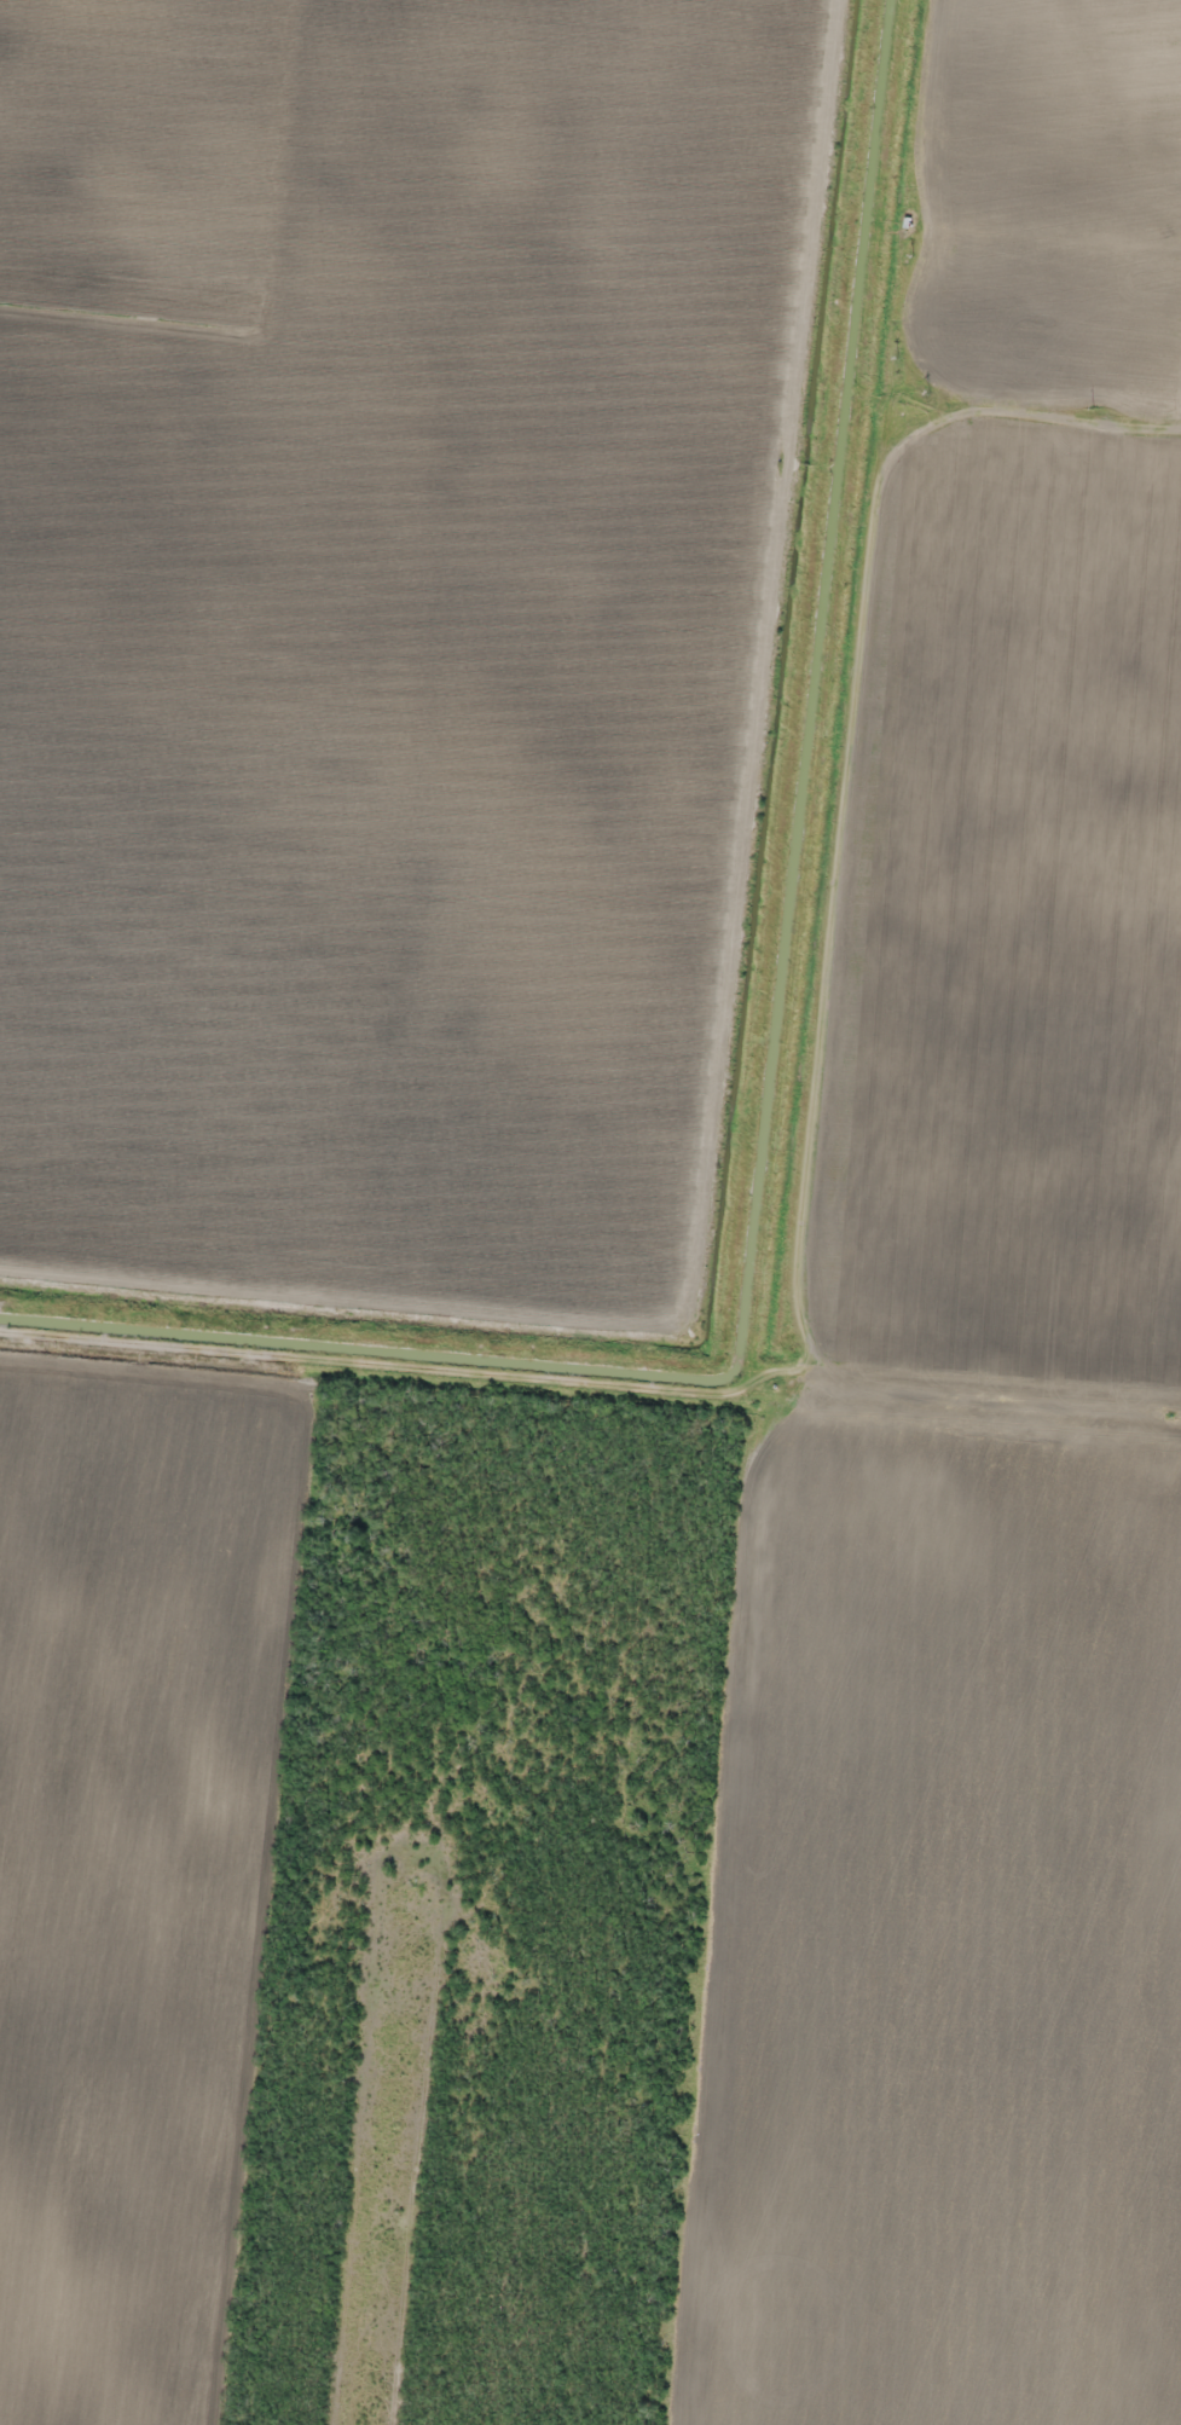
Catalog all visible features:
road: (980, 320)

